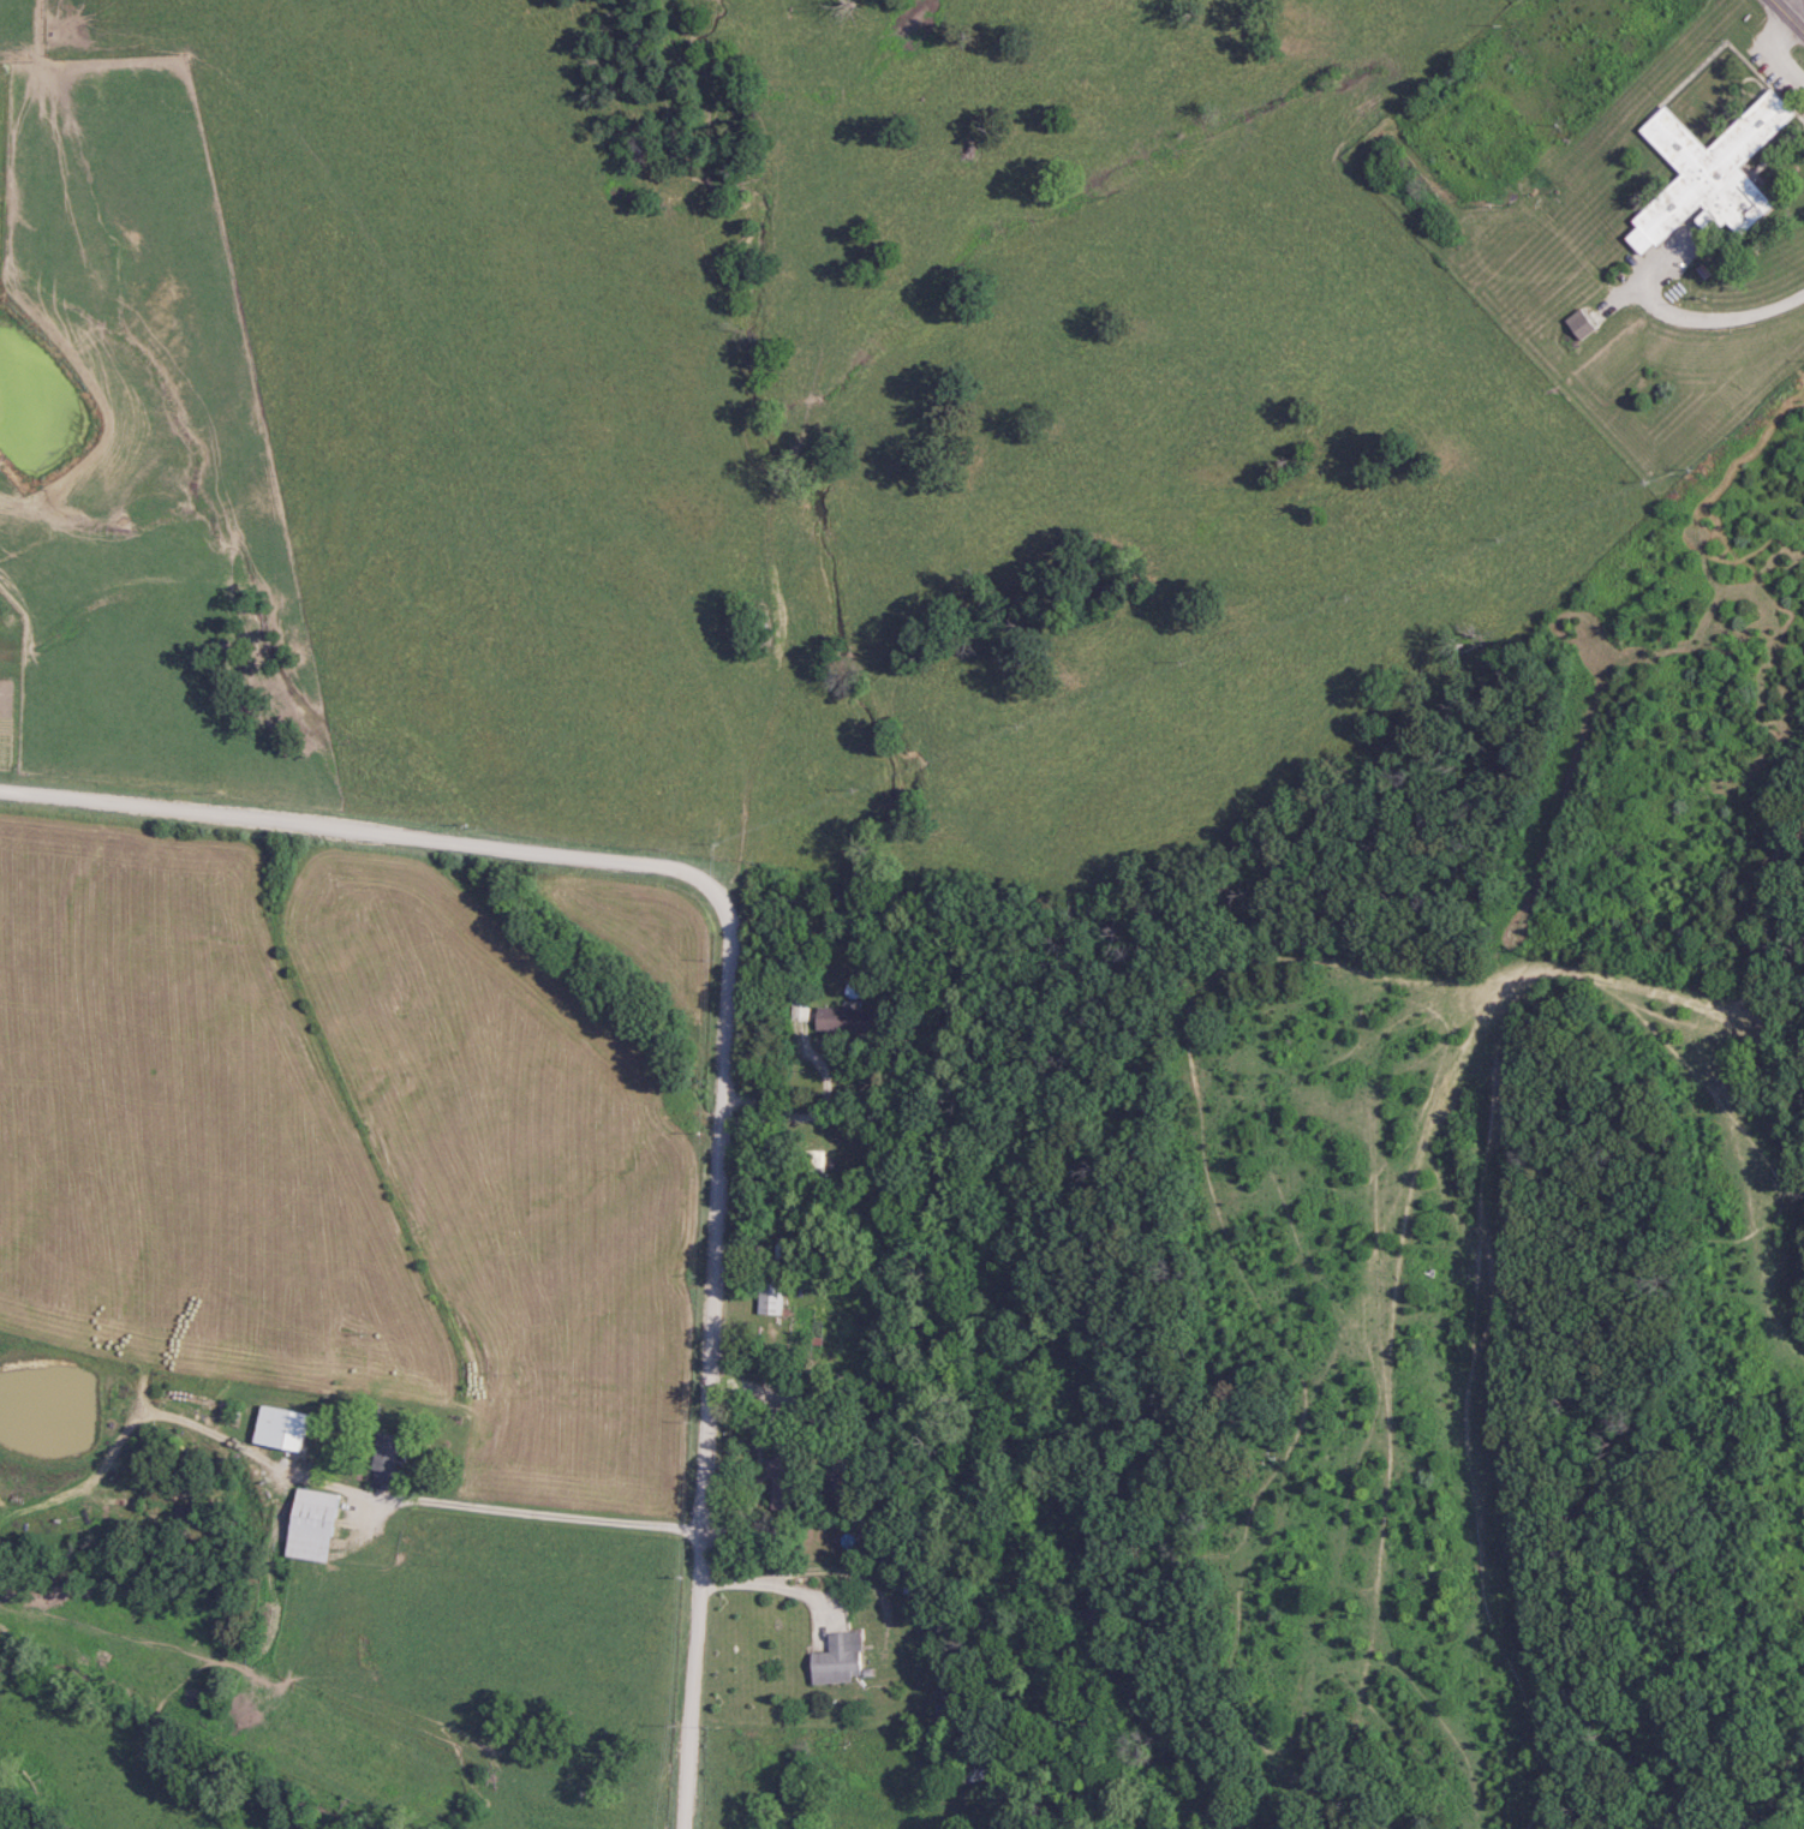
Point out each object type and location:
road: (1796, 8)
building: (1697, 166)
road: (1727, 313)
road: (734, 987)
building: (798, 1010)
building: (766, 1298)
building: (292, 1430)
building: (389, 1462)
road: (555, 1511)
building: (318, 1526)
road: (853, 1567)
building: (832, 1660)

